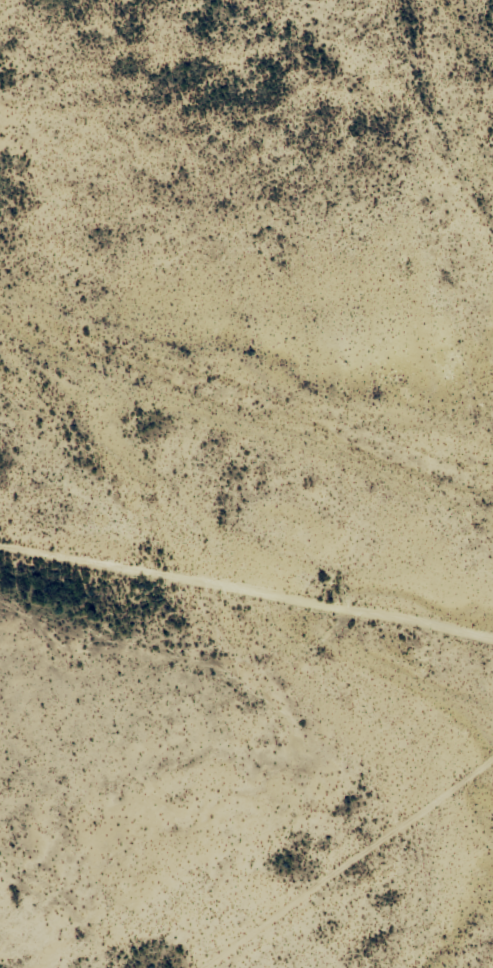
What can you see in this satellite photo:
road: (246, 598)

